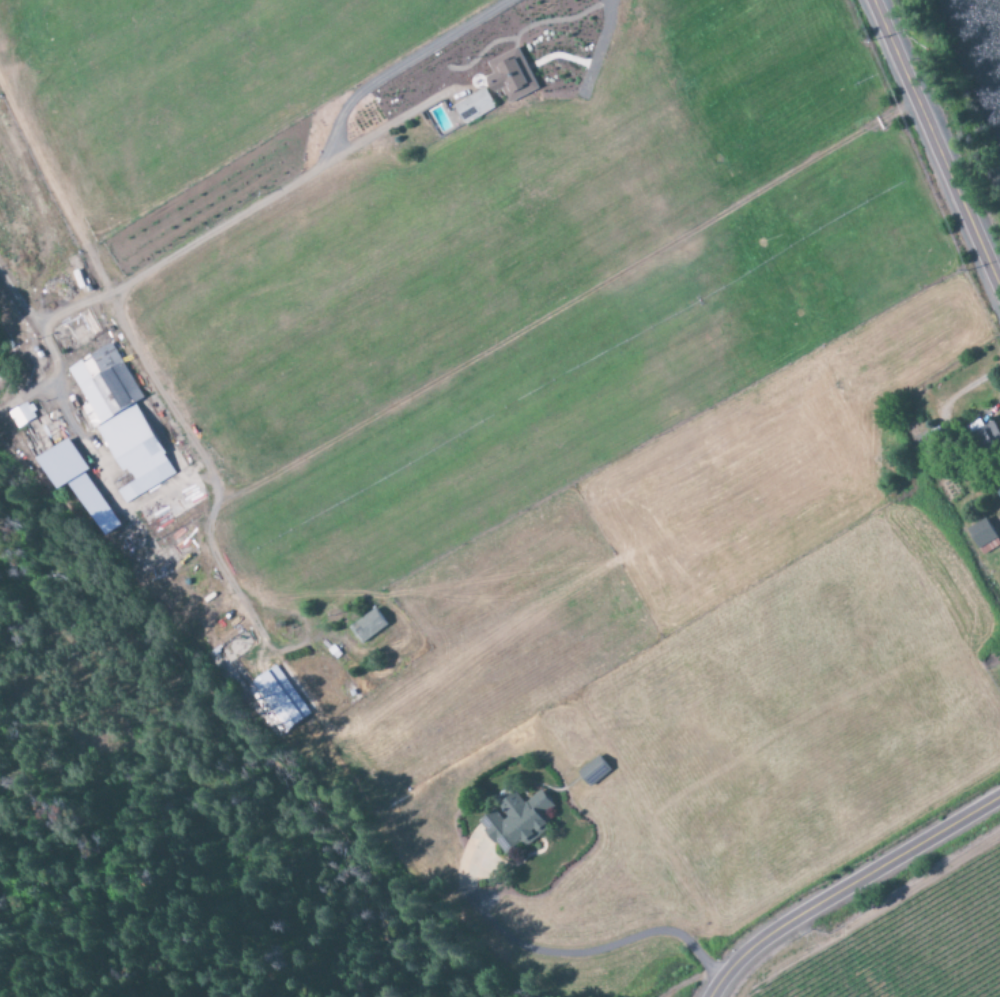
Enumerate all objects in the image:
building: (515, 76)
building: (476, 106)
road: (389, 120)
road: (932, 132)
road: (540, 305)
building: (24, 415)
building: (123, 422)
building: (78, 483)
building: (979, 533)
building: (988, 547)
building: (370, 626)
building: (225, 662)
building: (279, 699)
building: (597, 771)
building: (520, 822)
road: (847, 890)

